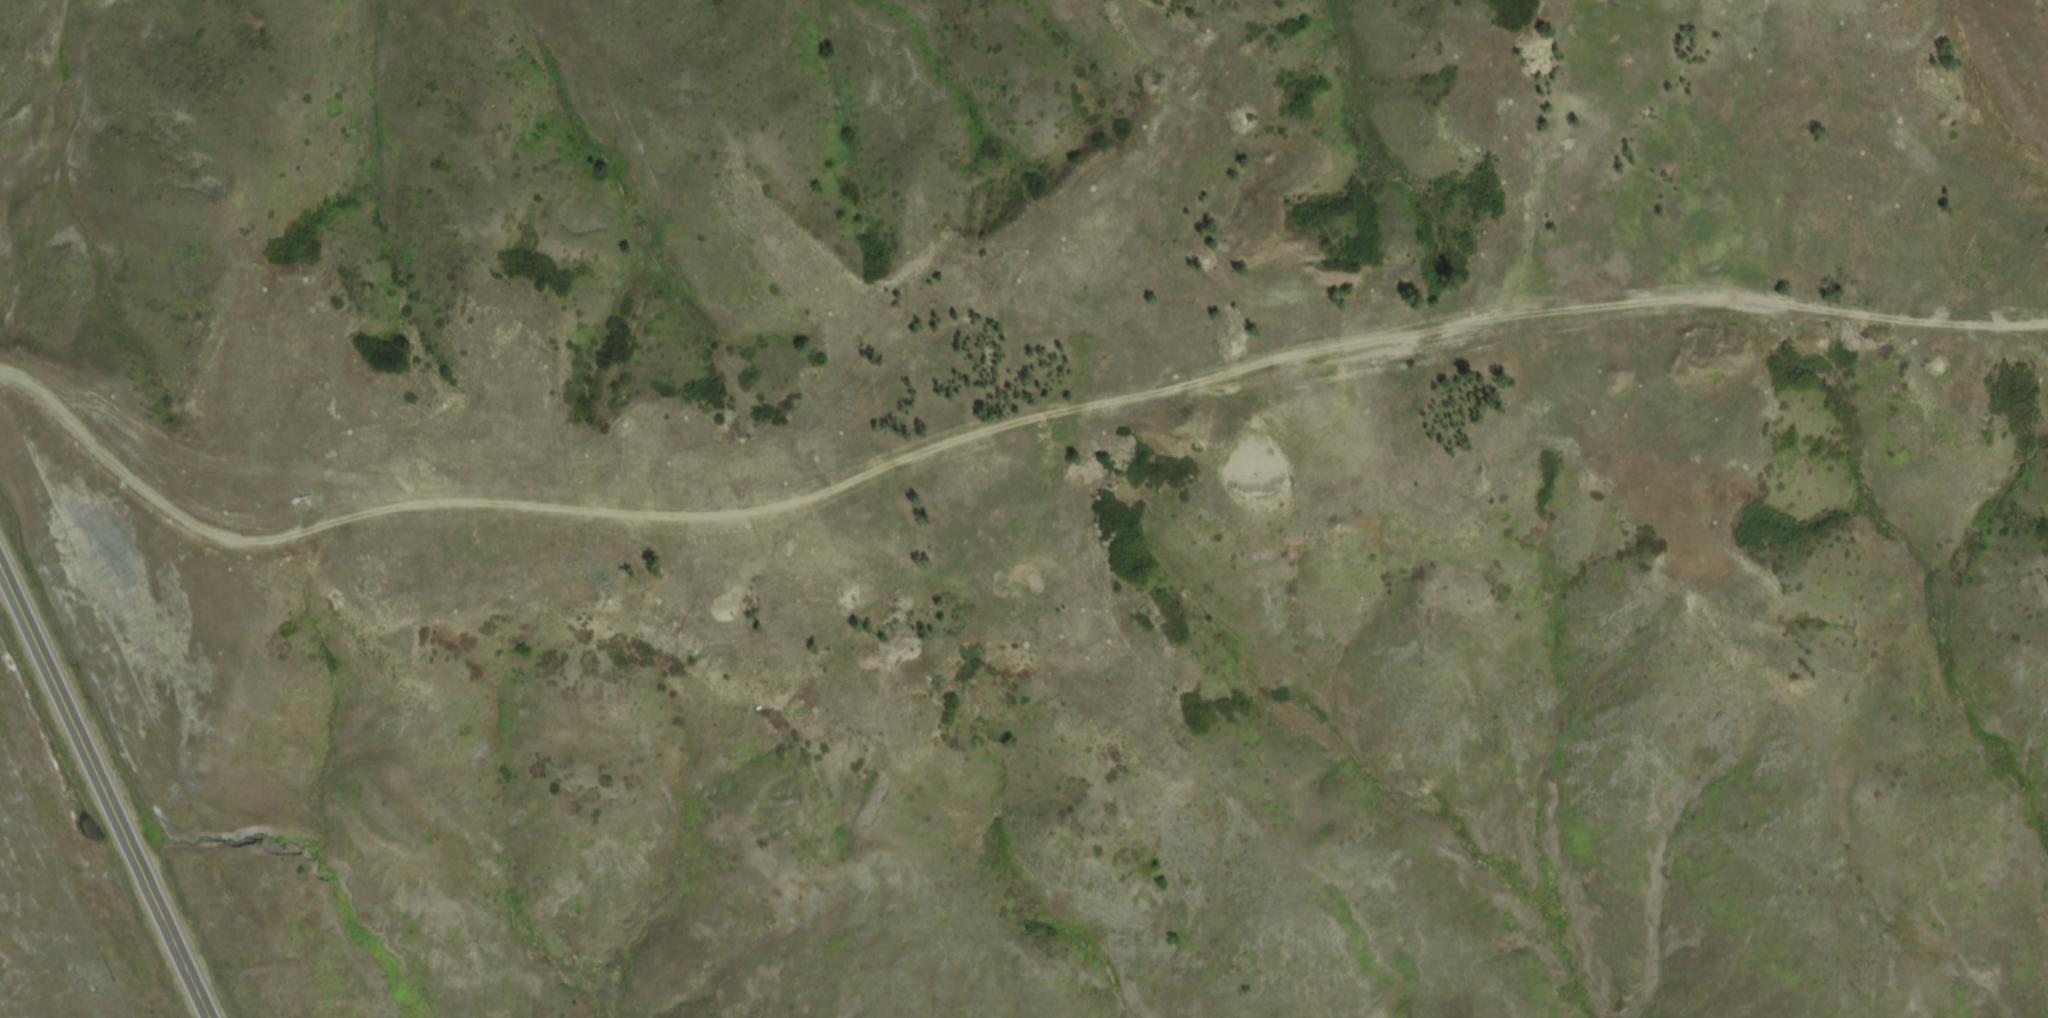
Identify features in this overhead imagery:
road: (105, 790)

